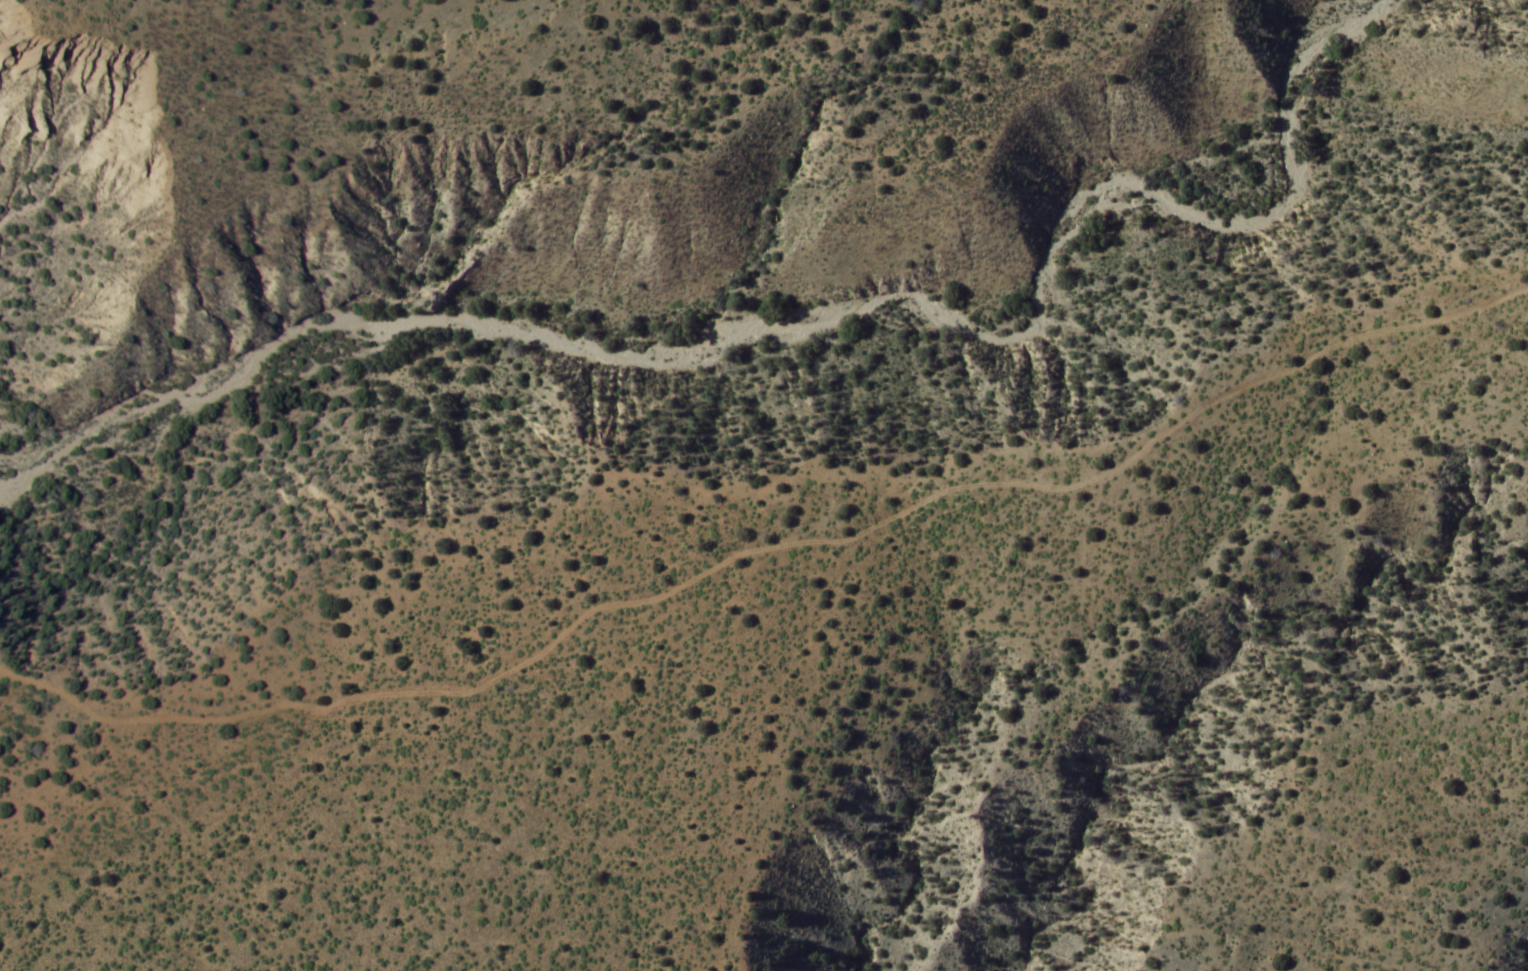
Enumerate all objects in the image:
road: (765, 474)

